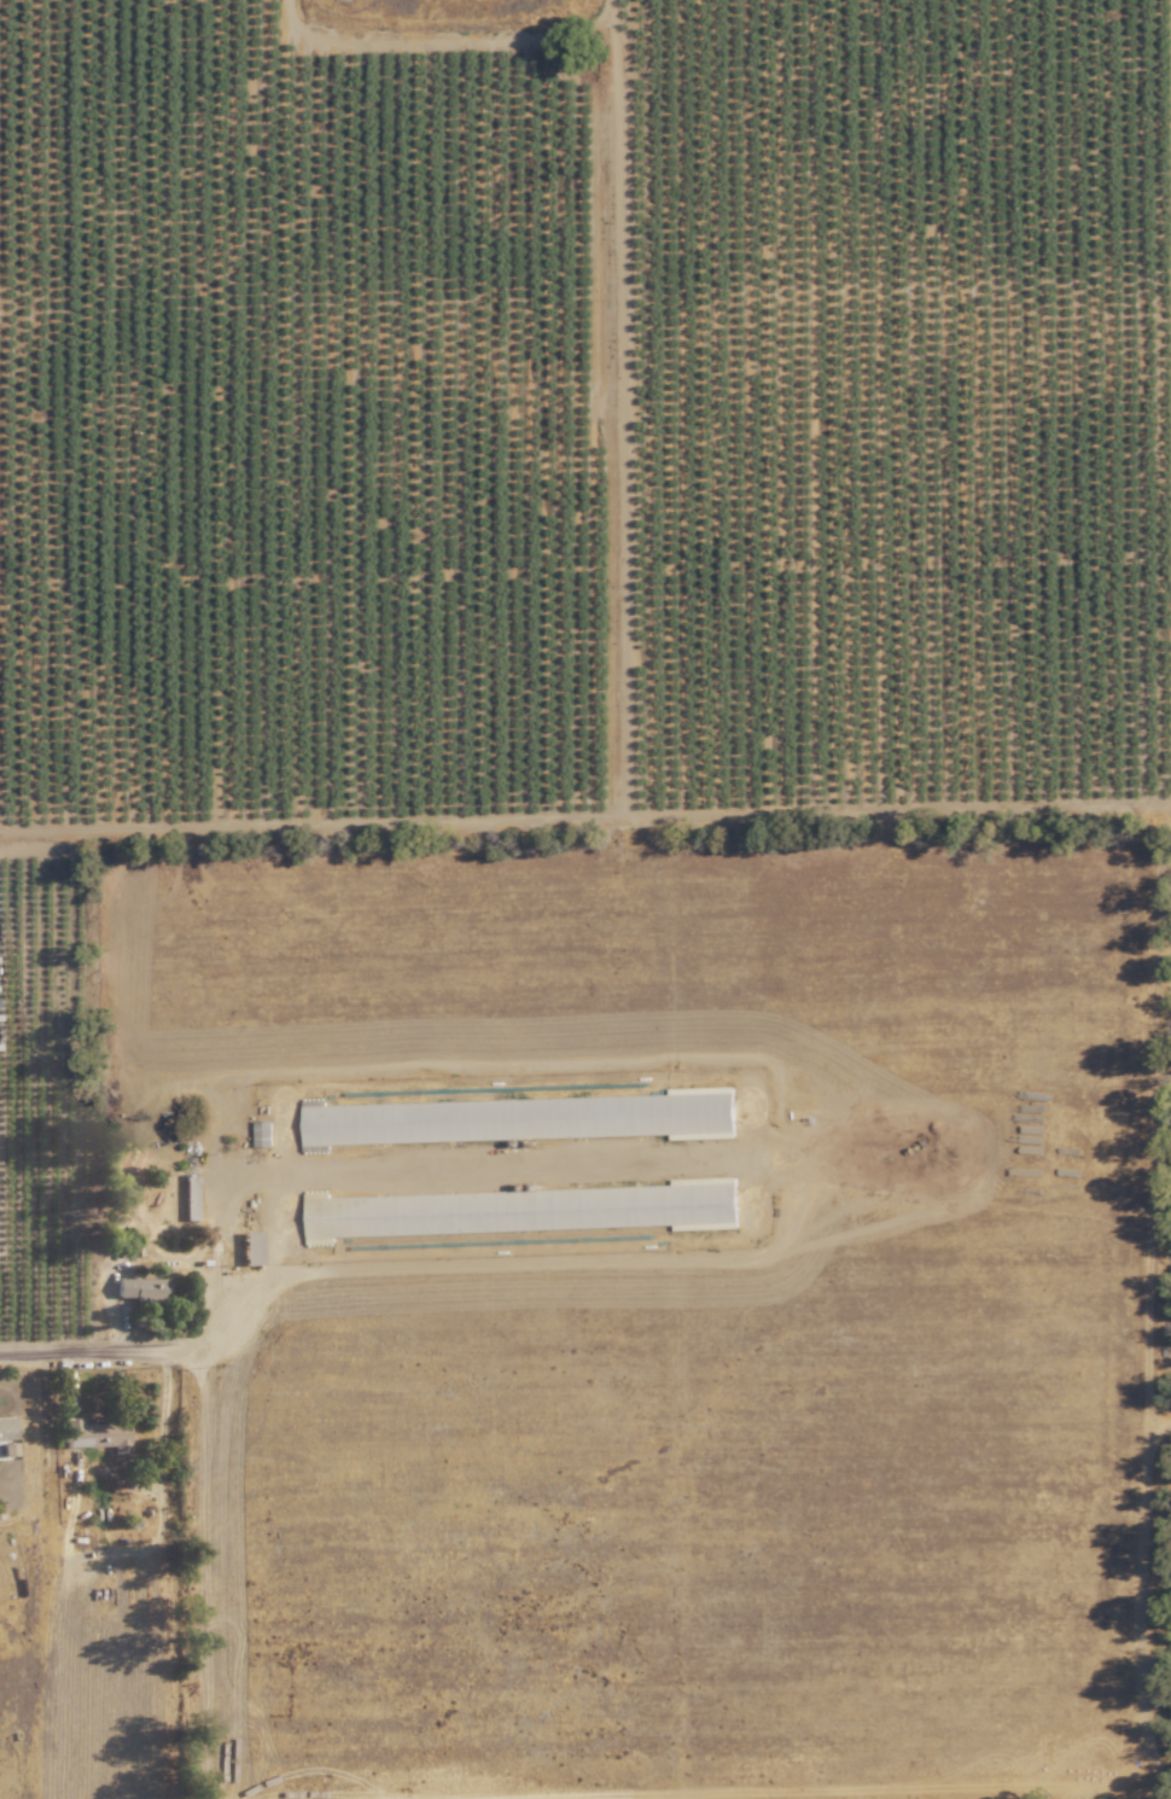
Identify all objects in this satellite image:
road: (585, 810)
building: (668, 1113)
building: (379, 1123)
building: (266, 1133)
building: (144, 1289)
road: (226, 1324)
road: (33, 1352)
building: (7, 1428)
building: (98, 1433)

